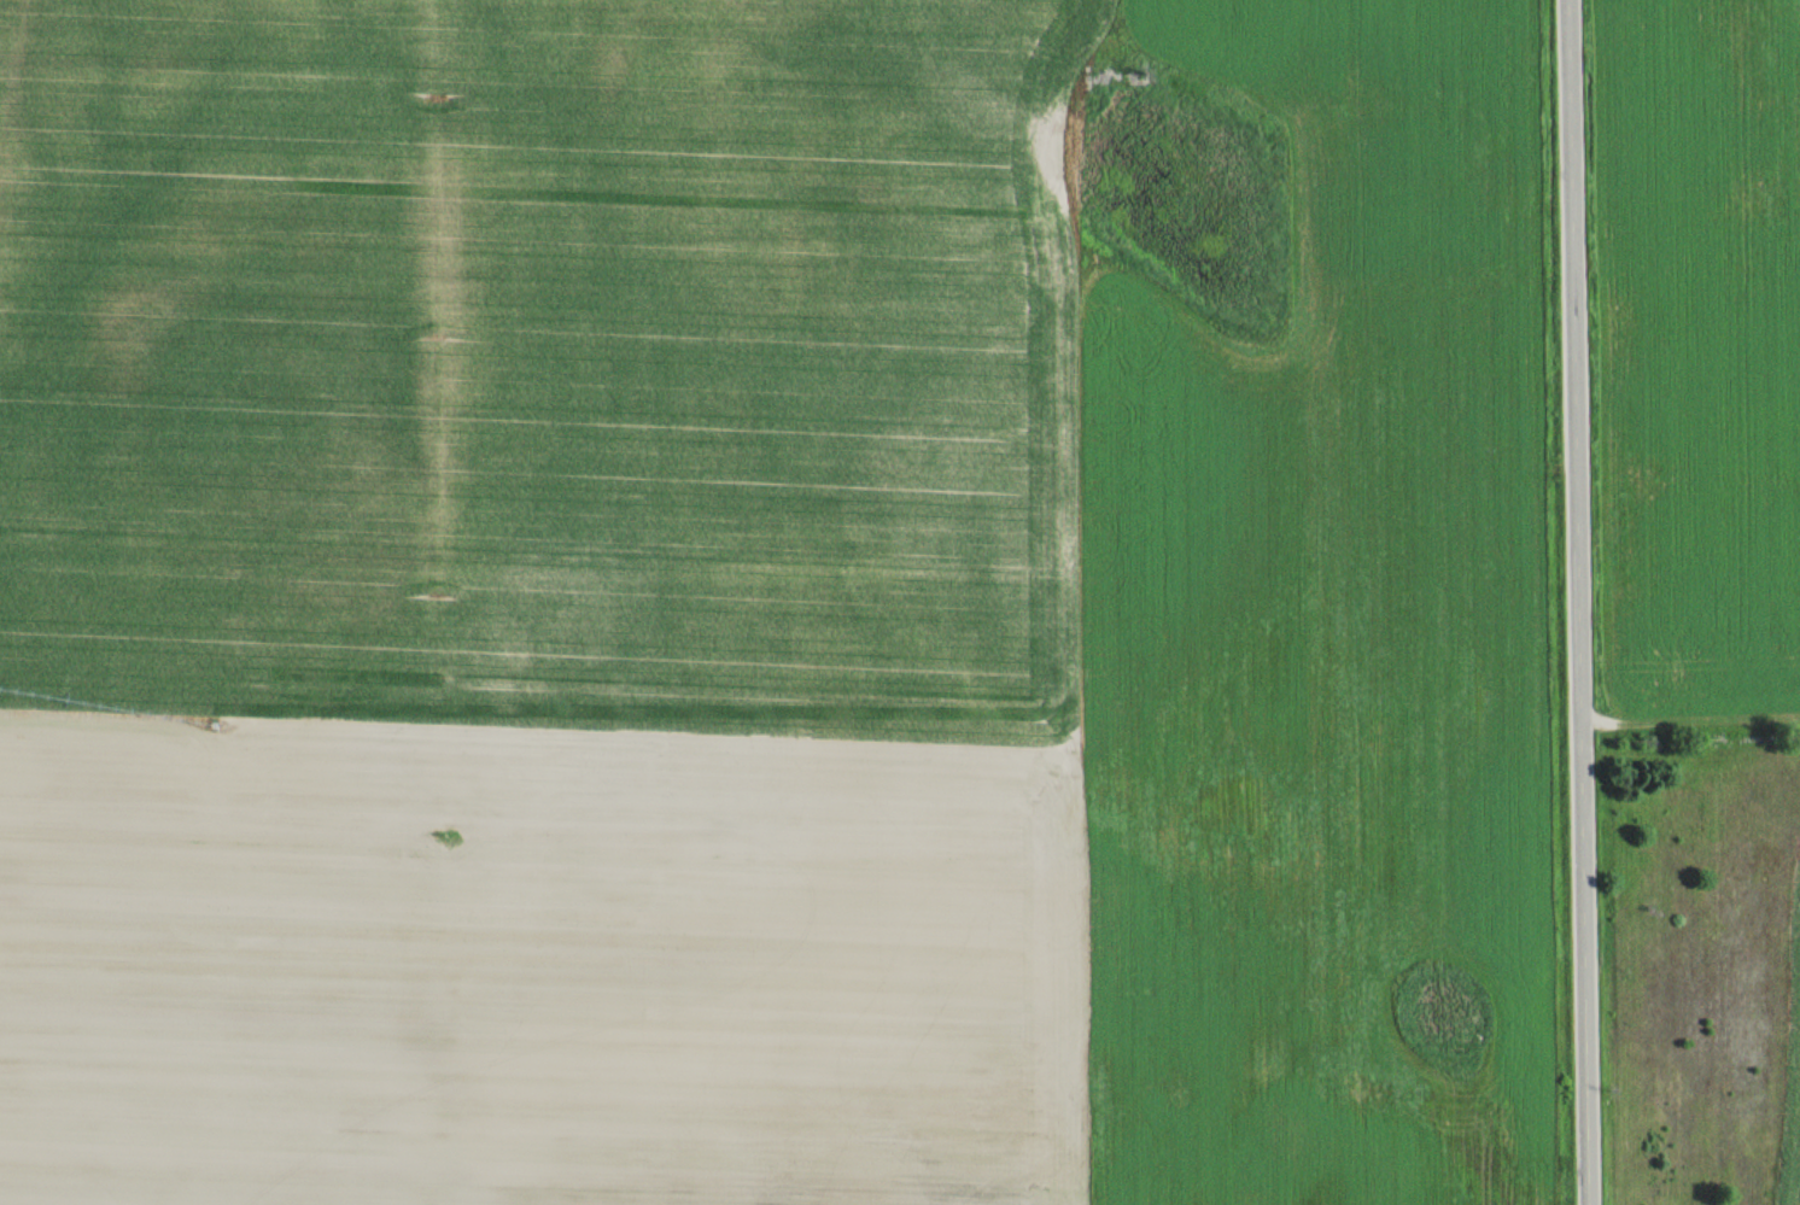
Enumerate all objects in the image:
road: (1578, 602)

